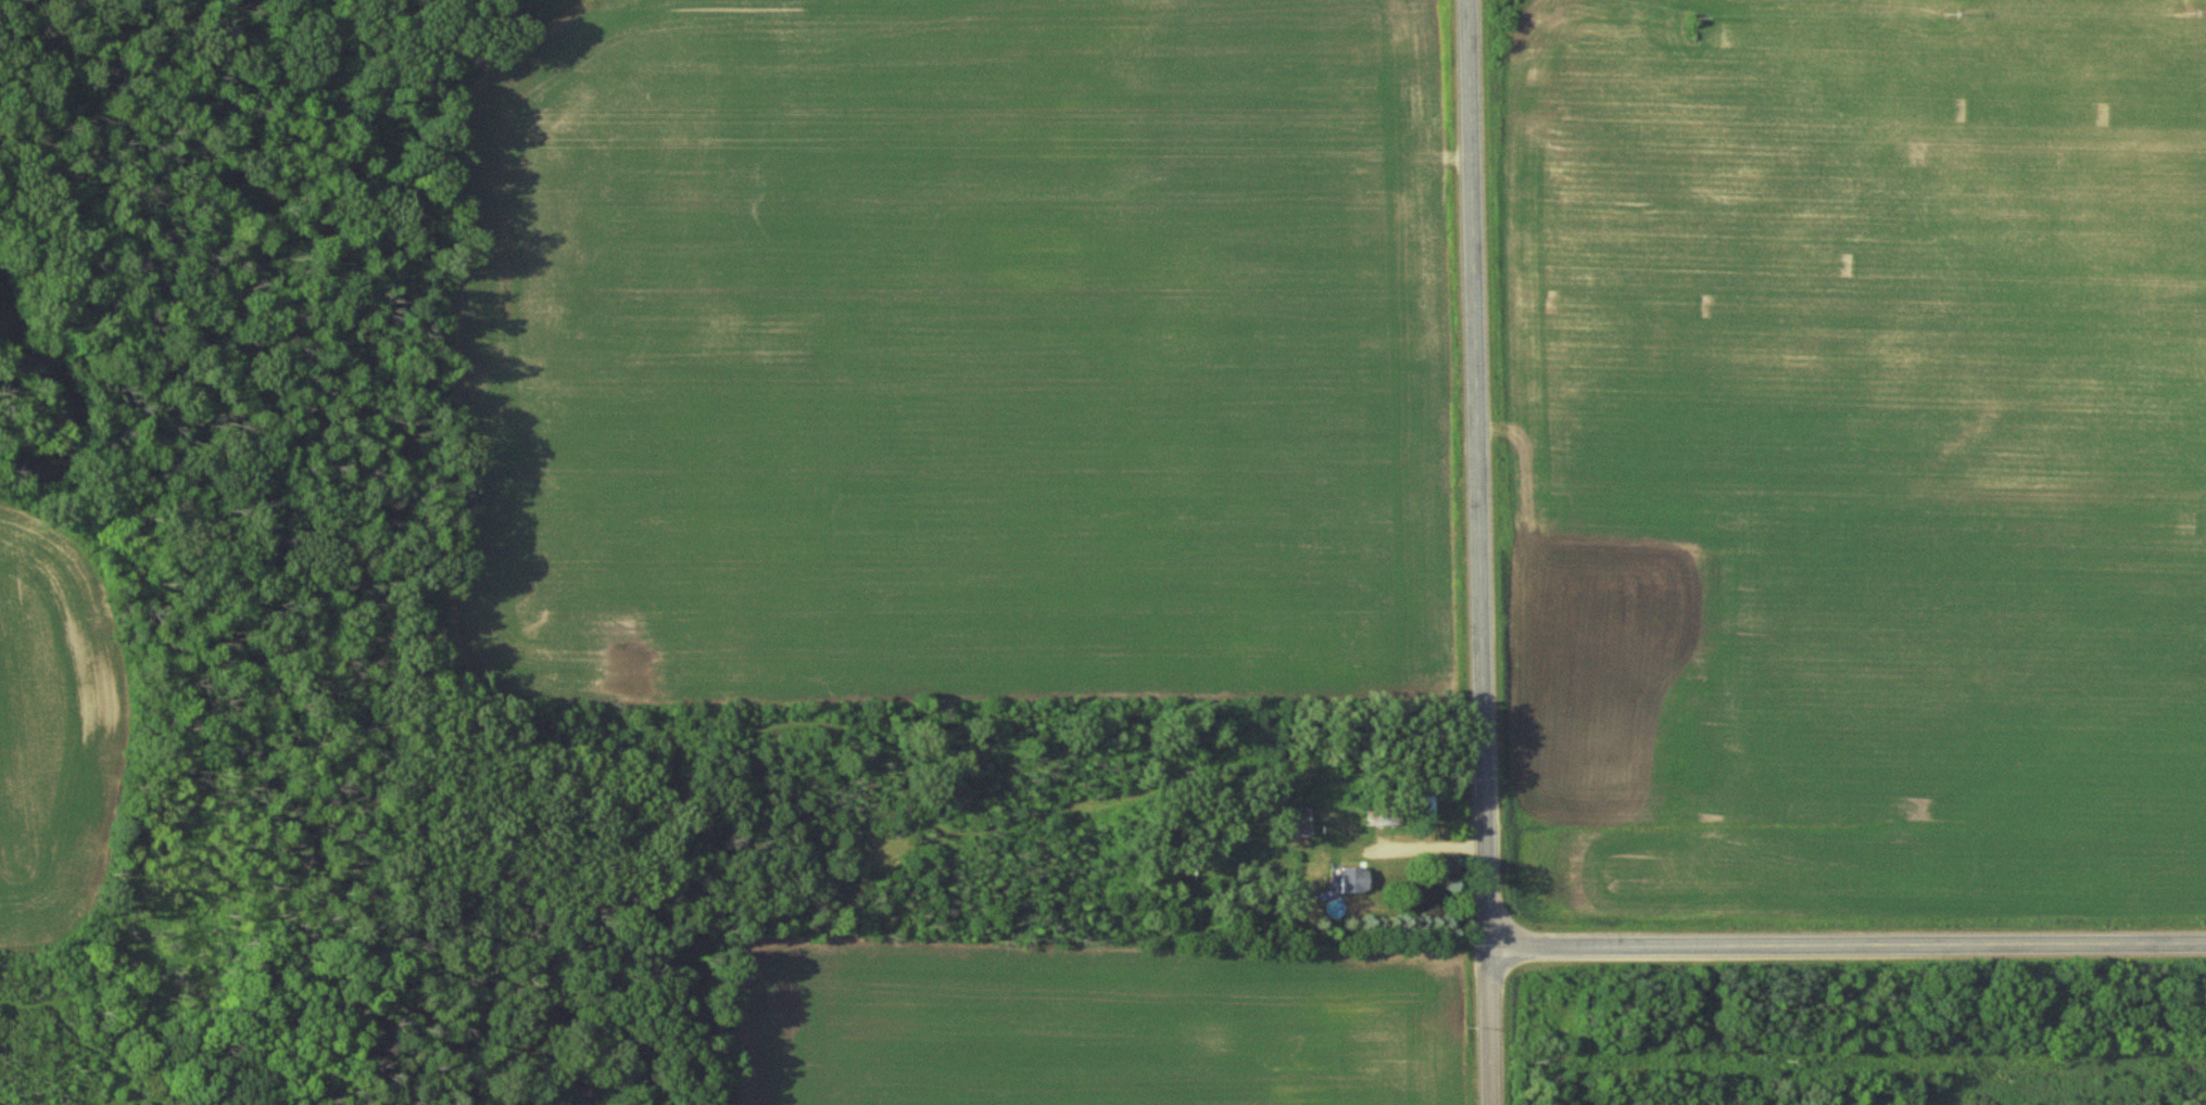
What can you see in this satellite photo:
road: (1480, 551)
building: (1423, 801)
road: (1429, 844)
building: (1351, 879)
road: (1848, 947)

